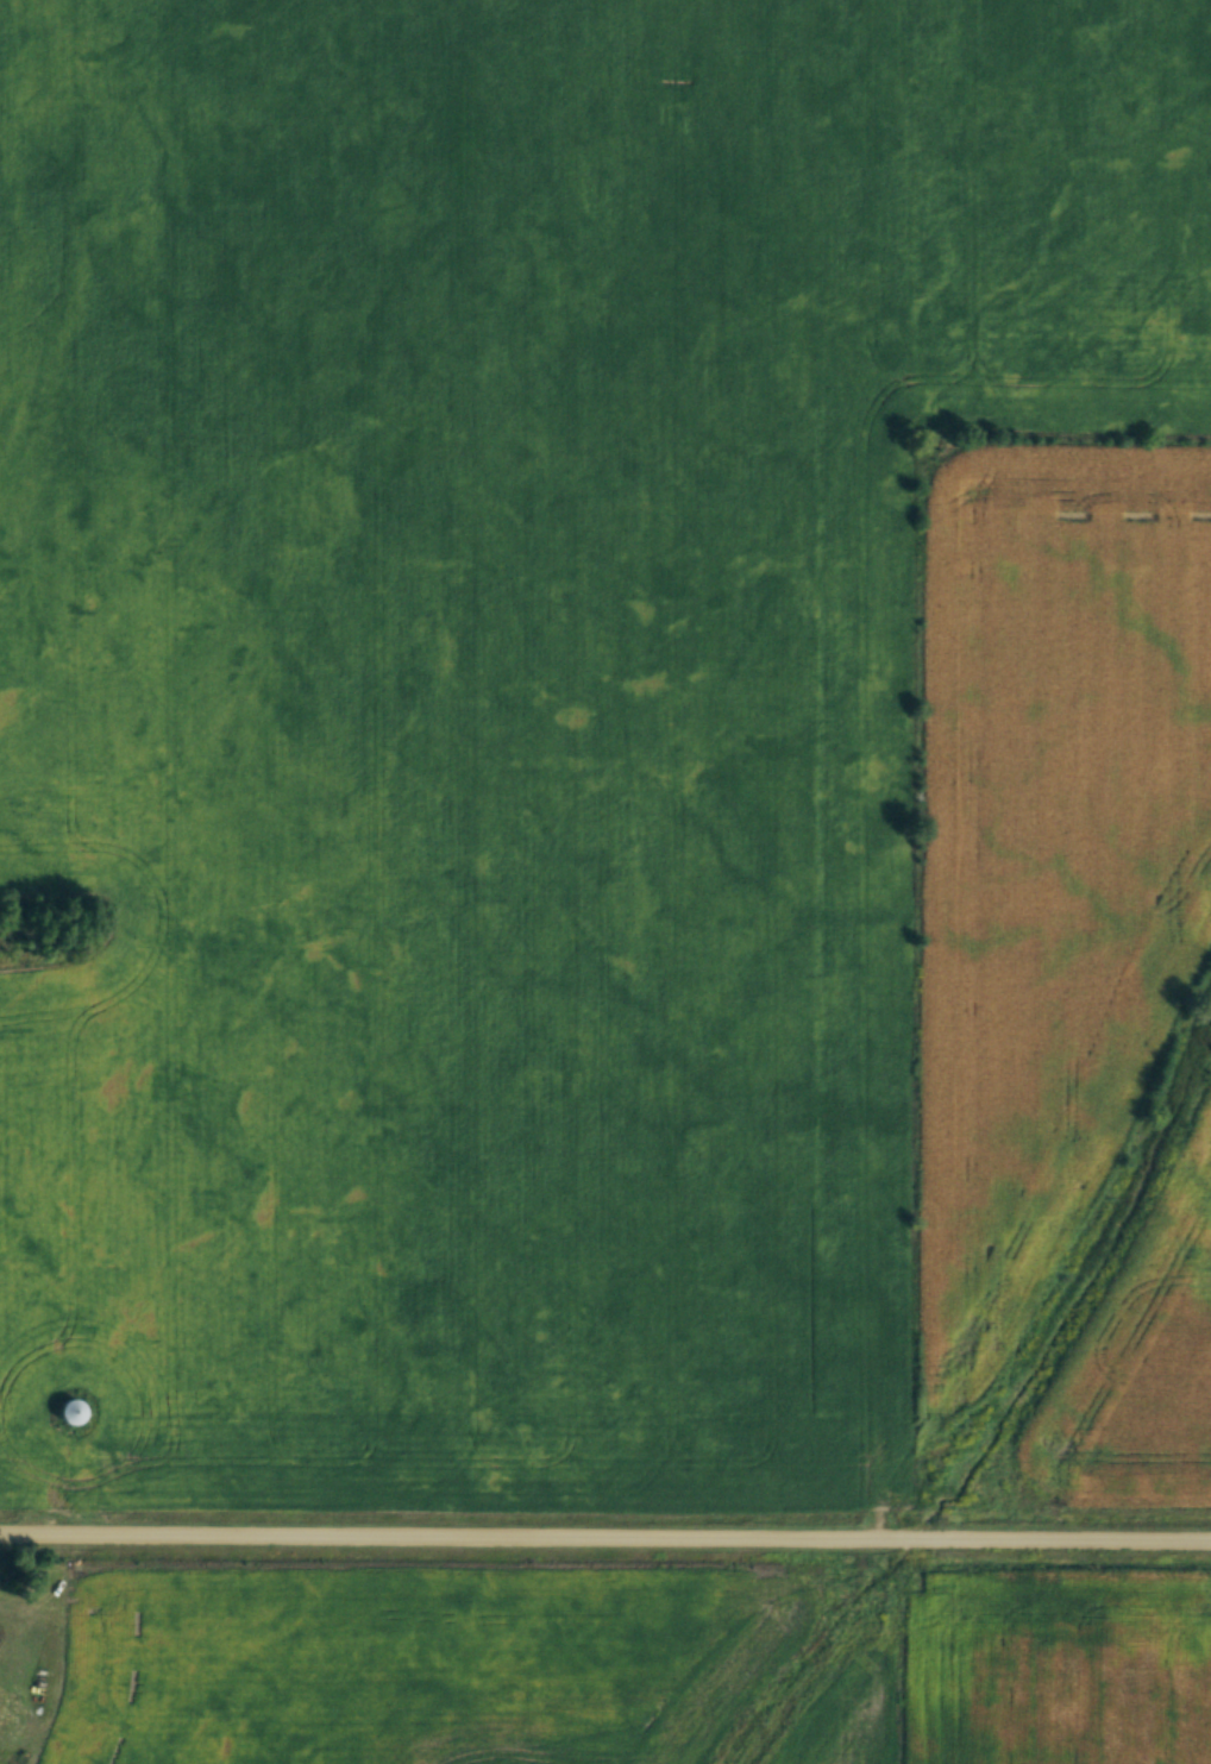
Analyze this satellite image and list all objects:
building: (68, 1413)
road: (604, 1542)

